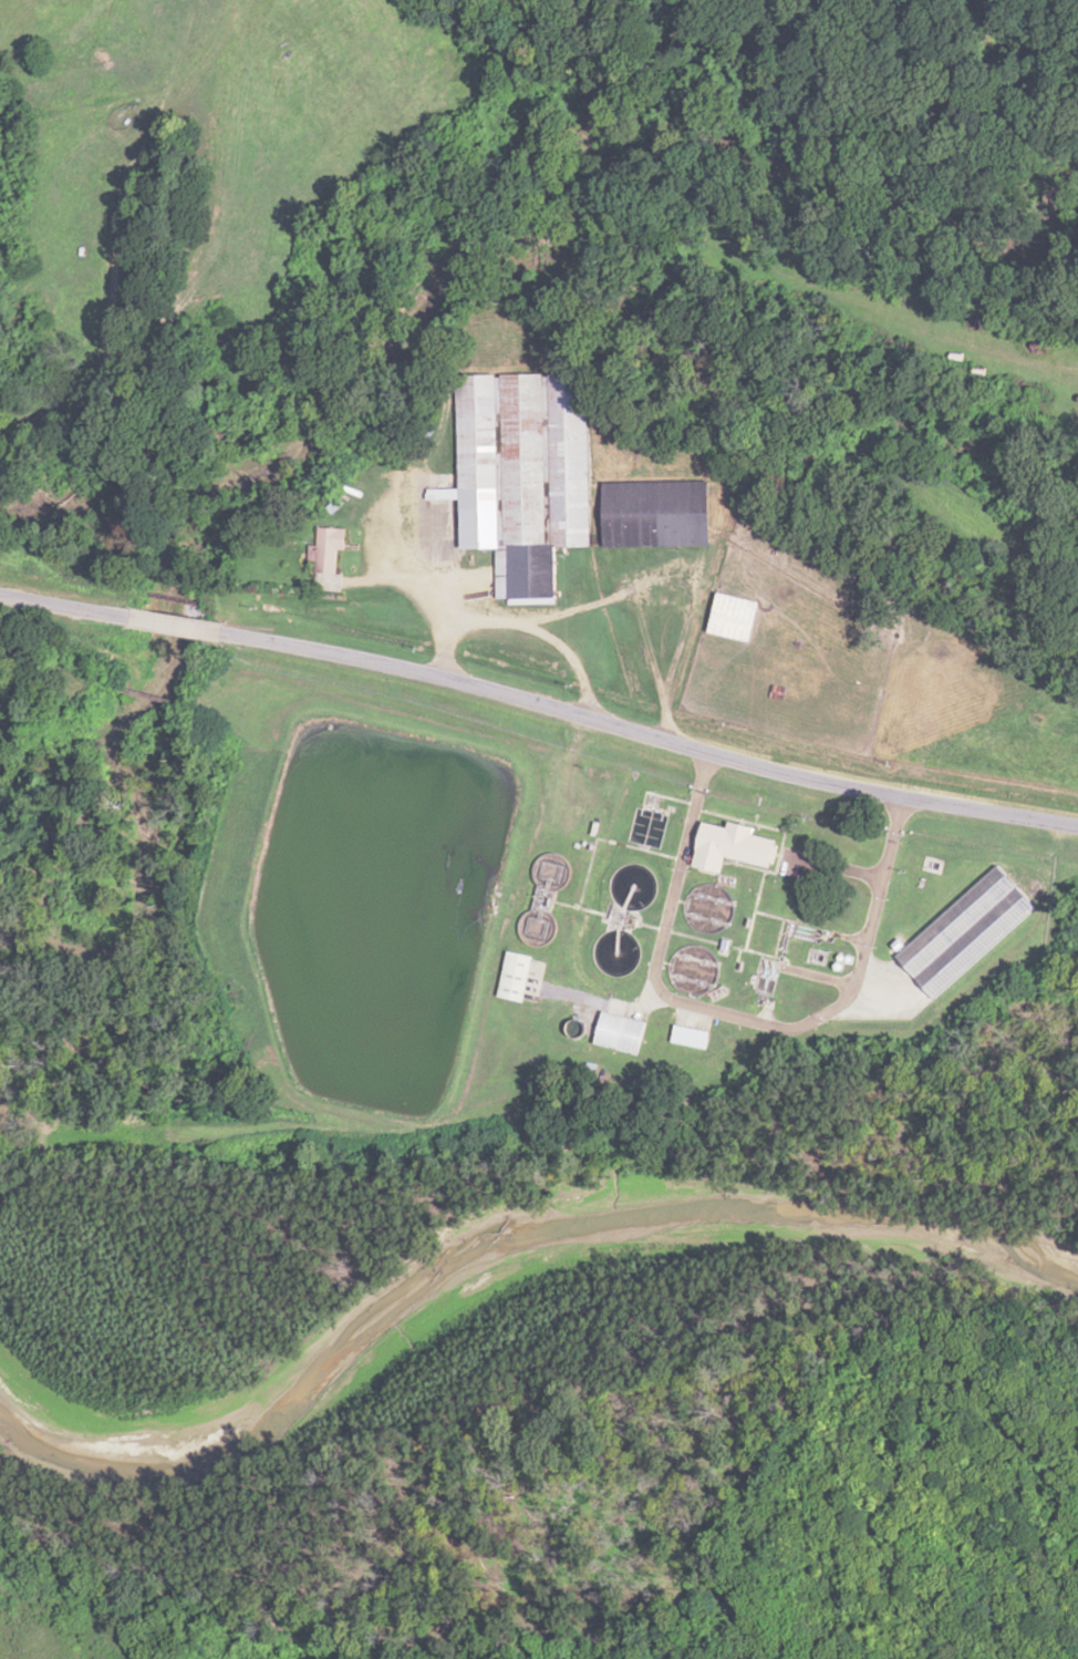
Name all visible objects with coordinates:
building: (524, 474)
building: (330, 548)
building: (735, 617)
road: (539, 705)
building: (1040, 719)
building: (736, 845)
building: (1008, 889)
wastewater plant: (563, 918)
building: (623, 1032)
river: (518, 1309)

